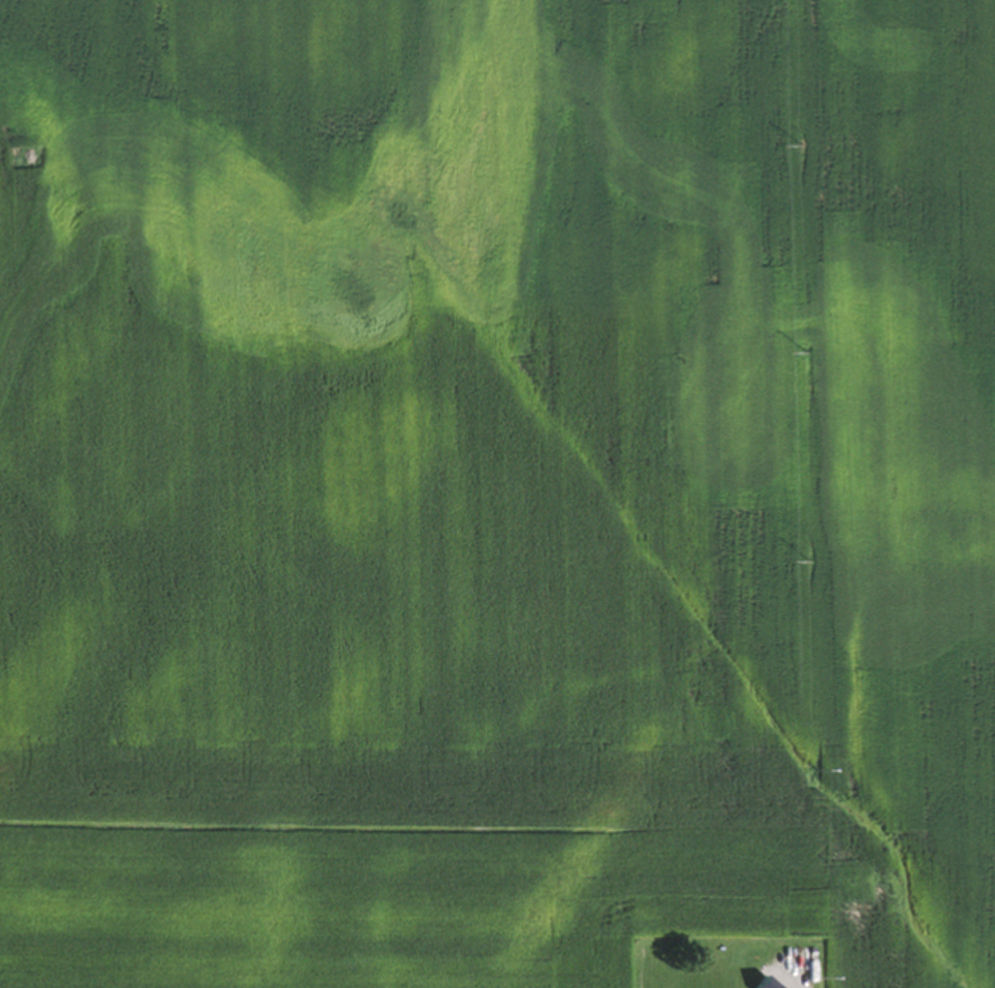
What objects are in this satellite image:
building: (765, 984)
road: (803, 985)

